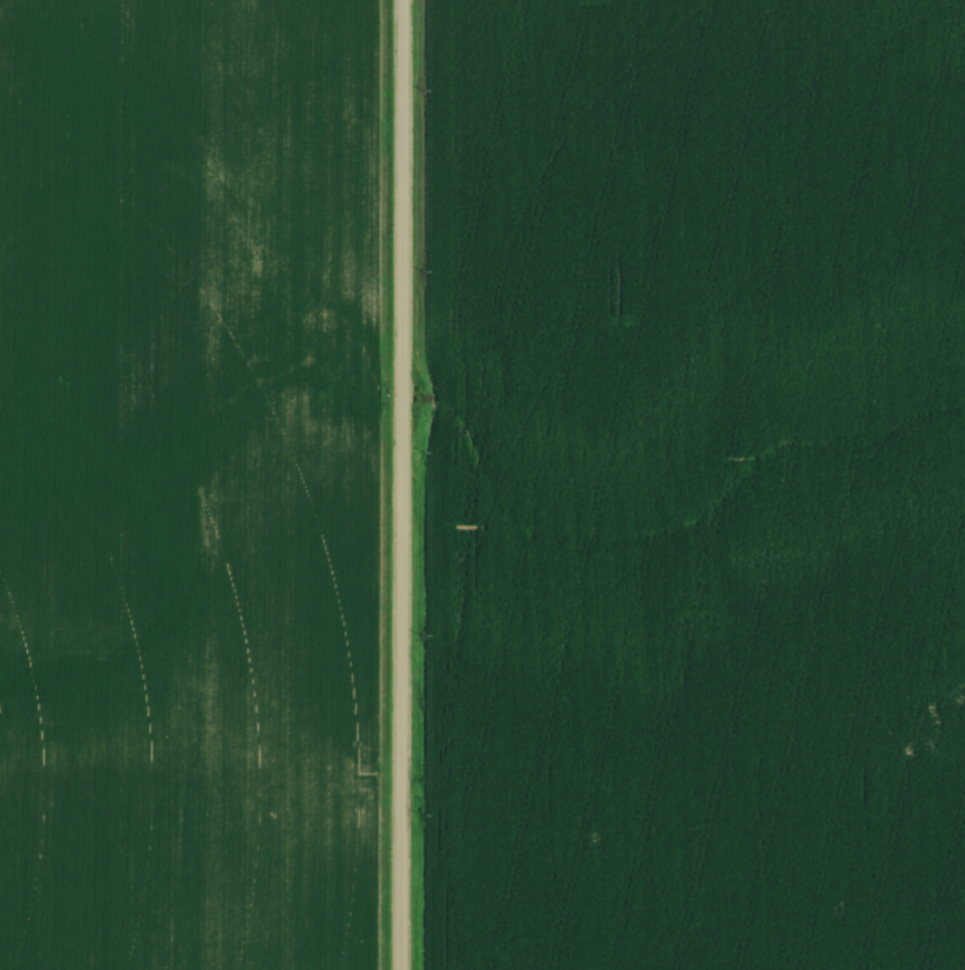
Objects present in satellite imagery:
road: (396, 485)

